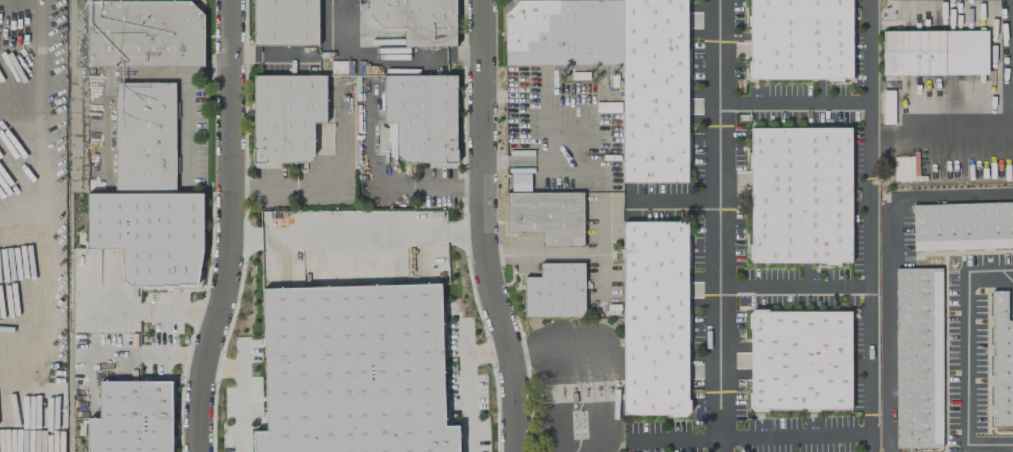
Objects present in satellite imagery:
building: (418, 20)
building: (285, 22)
building: (143, 33)
building: (563, 33)
building: (799, 39)
building: (934, 52)
road: (384, 54)
building: (653, 91)
road: (793, 103)
building: (888, 107)
building: (285, 116)
building: (421, 117)
road: (940, 136)
building: (144, 138)
building: (904, 167)
building: (519, 182)
road: (334, 186)
road: (376, 187)
building: (799, 194)
road: (40, 197)
road: (675, 202)
building: (547, 217)
road: (718, 226)
road: (868, 226)
building: (962, 226)
road: (229, 227)
road: (481, 227)
building: (149, 234)
road: (355, 234)
road: (888, 268)
road: (794, 287)
building: (555, 291)
road: (125, 312)
building: (654, 318)
road: (89, 334)
road: (485, 350)
road: (118, 355)
building: (917, 357)
road: (967, 358)
building: (798, 360)
building: (1001, 362)
road: (585, 363)
road: (222, 367)
building: (353, 370)
road: (466, 385)
road: (241, 396)
building: (132, 418)
road: (794, 435)

